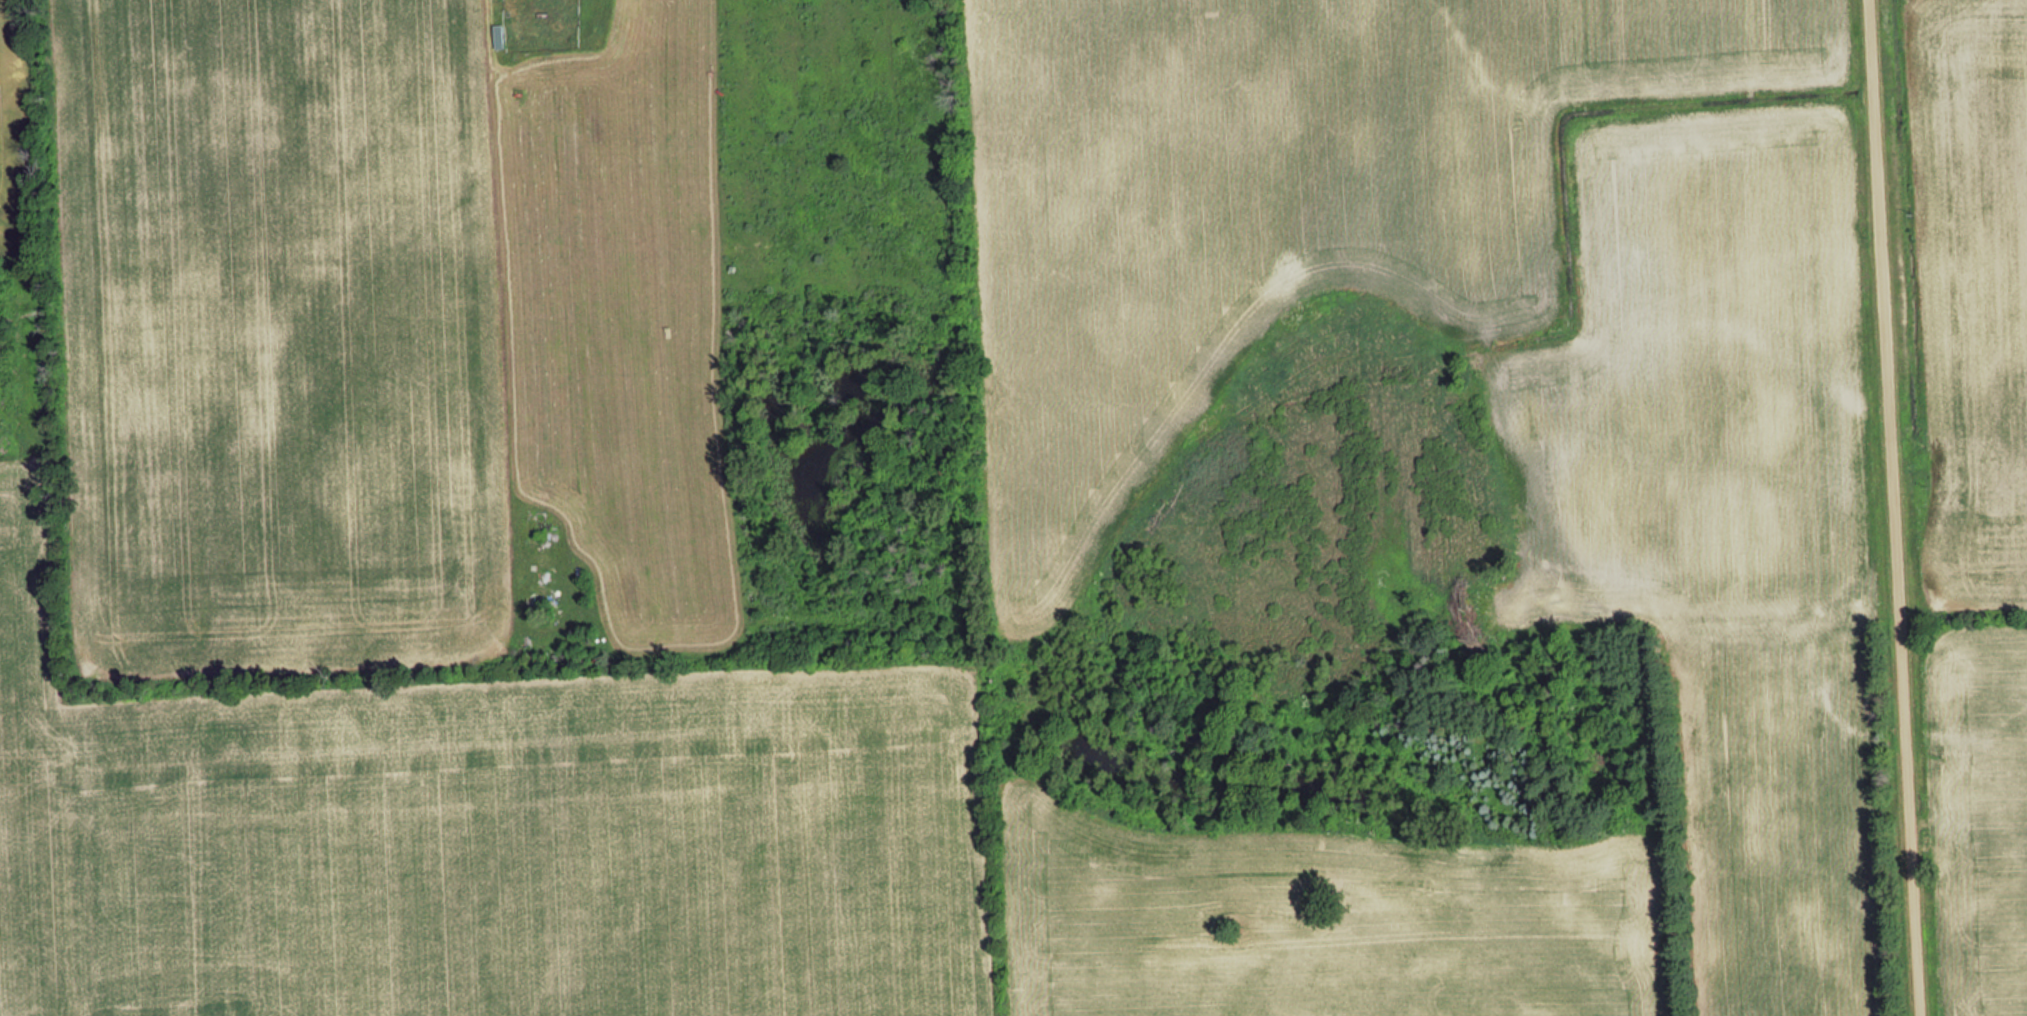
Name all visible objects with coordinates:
road: (1897, 508)

